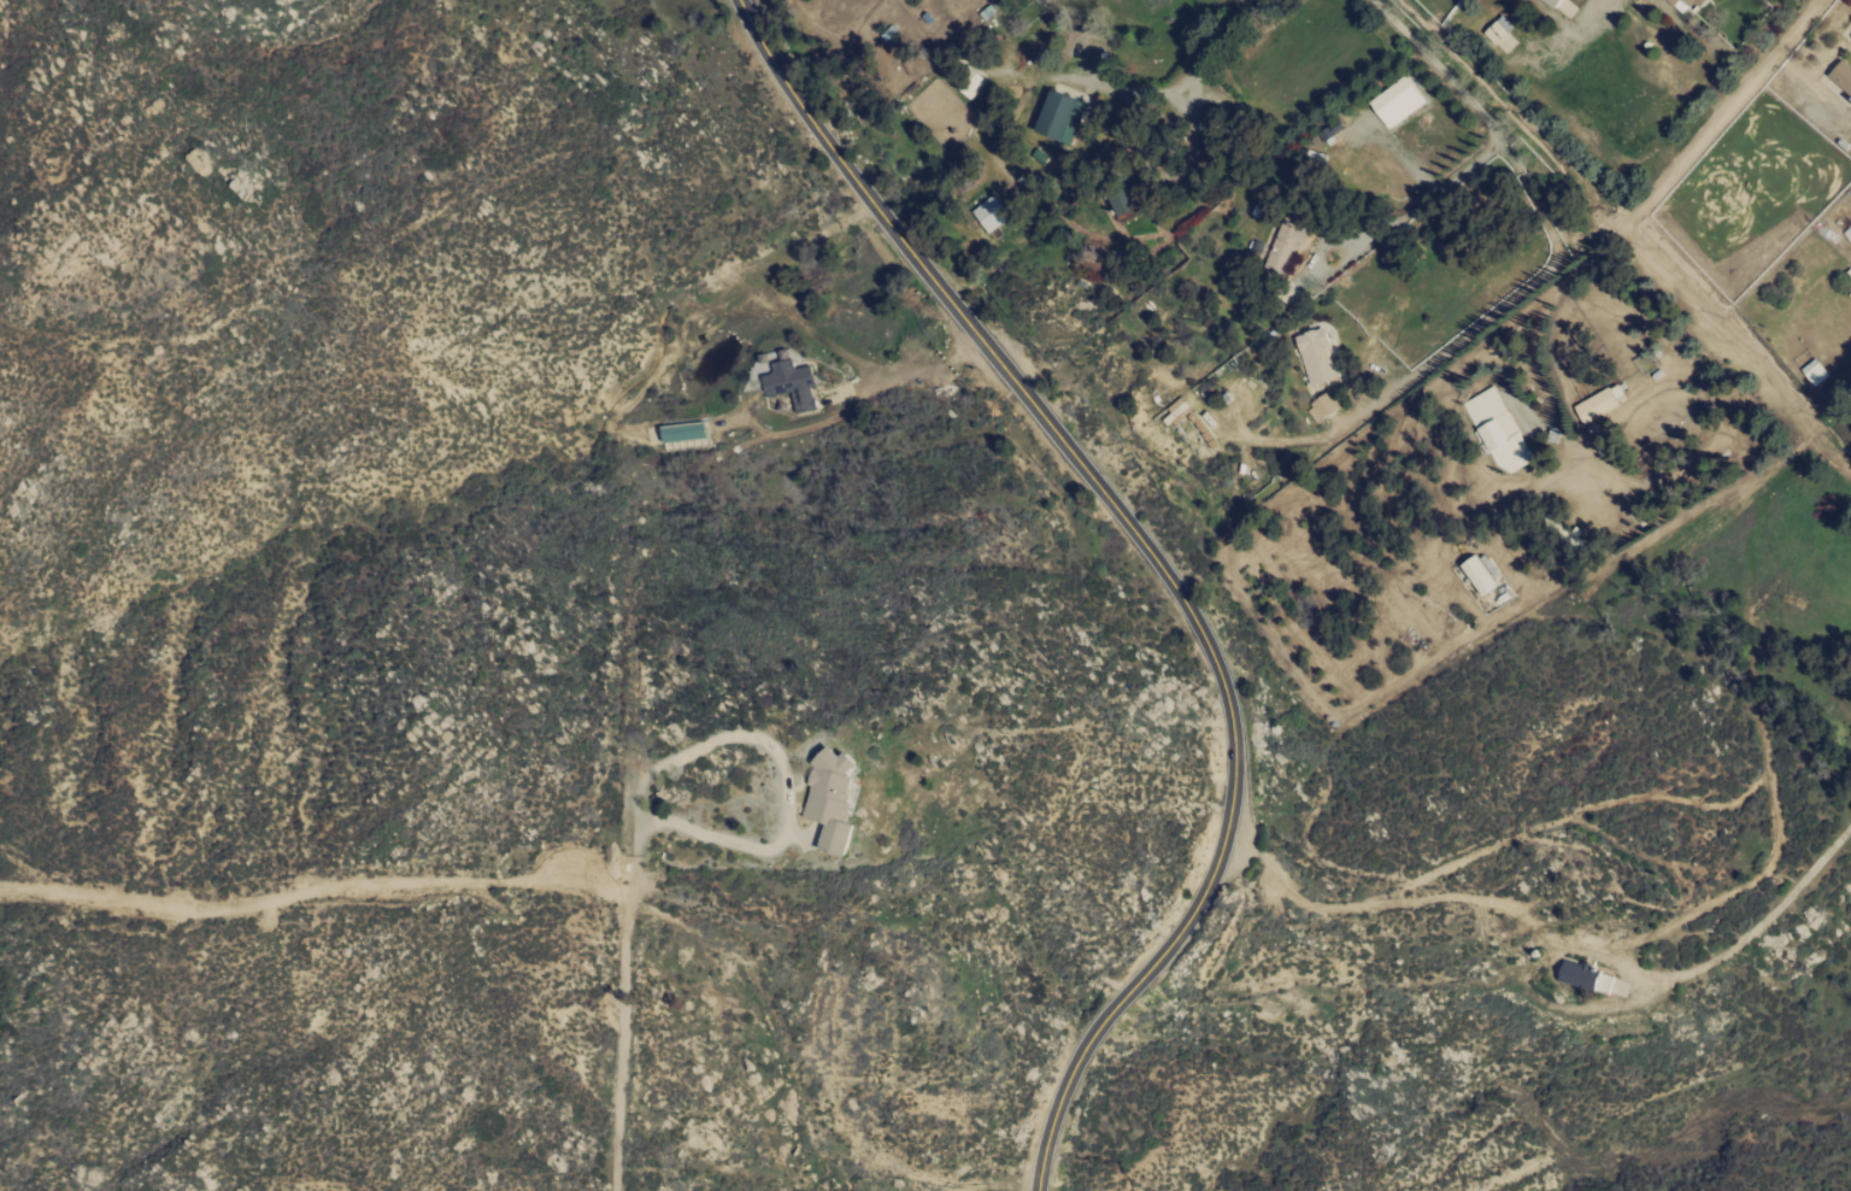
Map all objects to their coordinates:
building: (1561, 2)
building: (1688, 4)
road: (1565, 29)
building: (1505, 34)
road: (1214, 41)
building: (1844, 77)
building: (1404, 101)
building: (1066, 117)
road: (1700, 140)
building: (1132, 199)
road: (1412, 207)
building: (997, 212)
road: (1551, 239)
building: (1287, 245)
building: (1322, 356)
building: (788, 376)
building: (1600, 404)
building: (1326, 406)
building: (1179, 411)
building: (1500, 429)
road: (1141, 565)
building: (1483, 575)
road: (782, 770)
building: (839, 798)
road: (316, 887)
road: (1389, 890)
building: (1598, 979)
road: (623, 1013)

